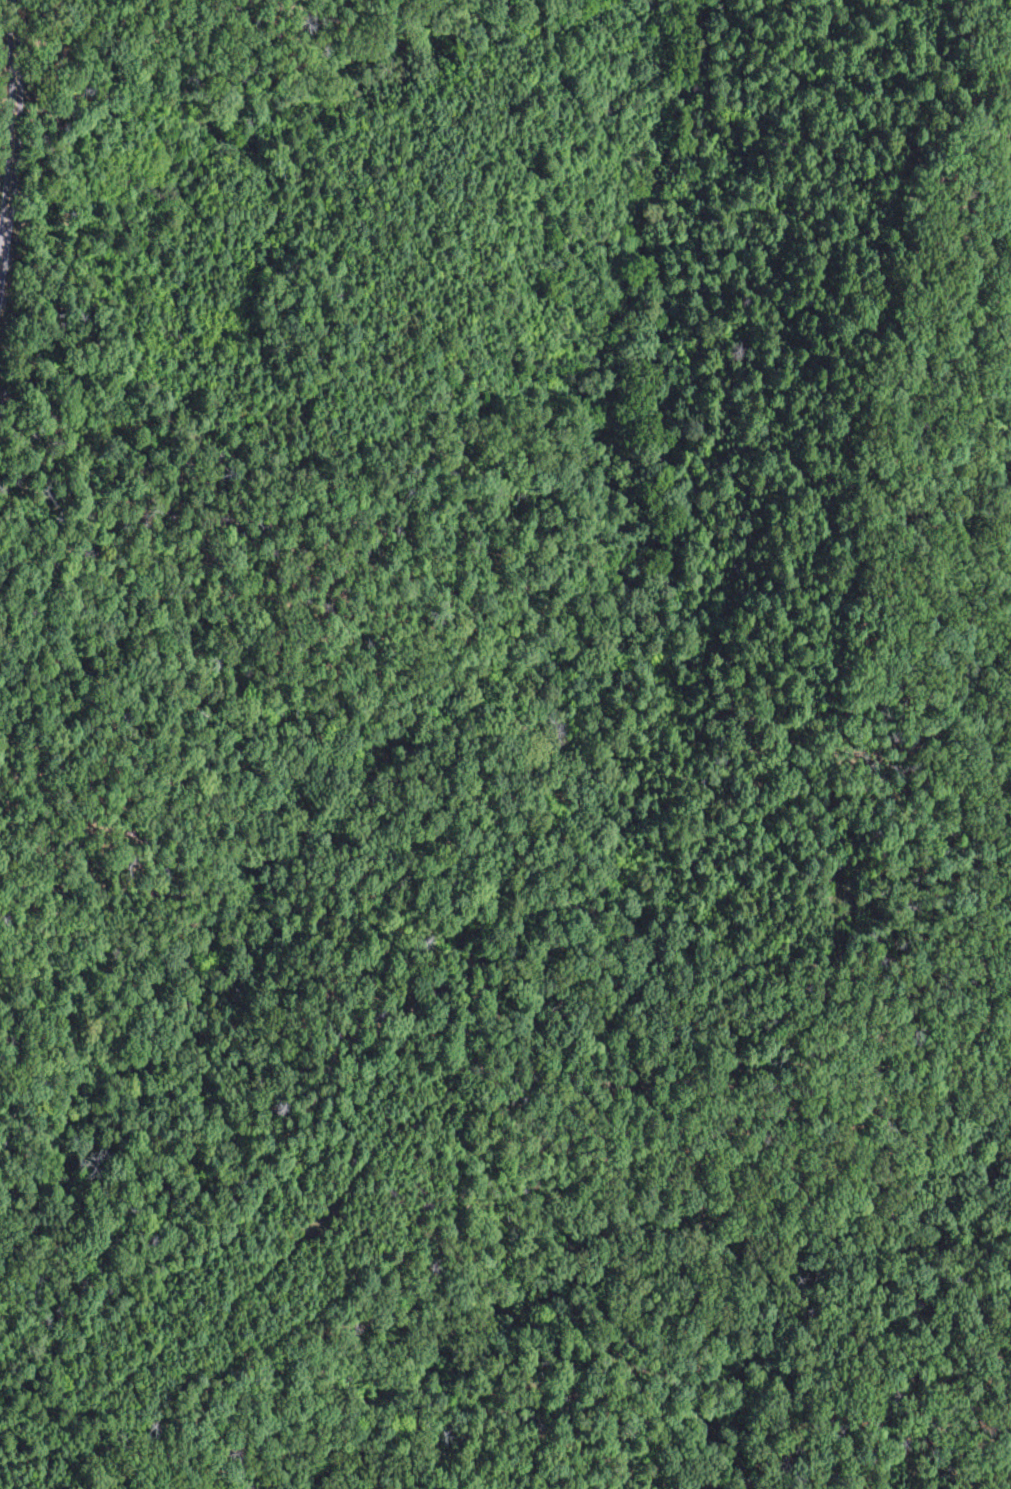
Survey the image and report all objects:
road: (15, 139)

